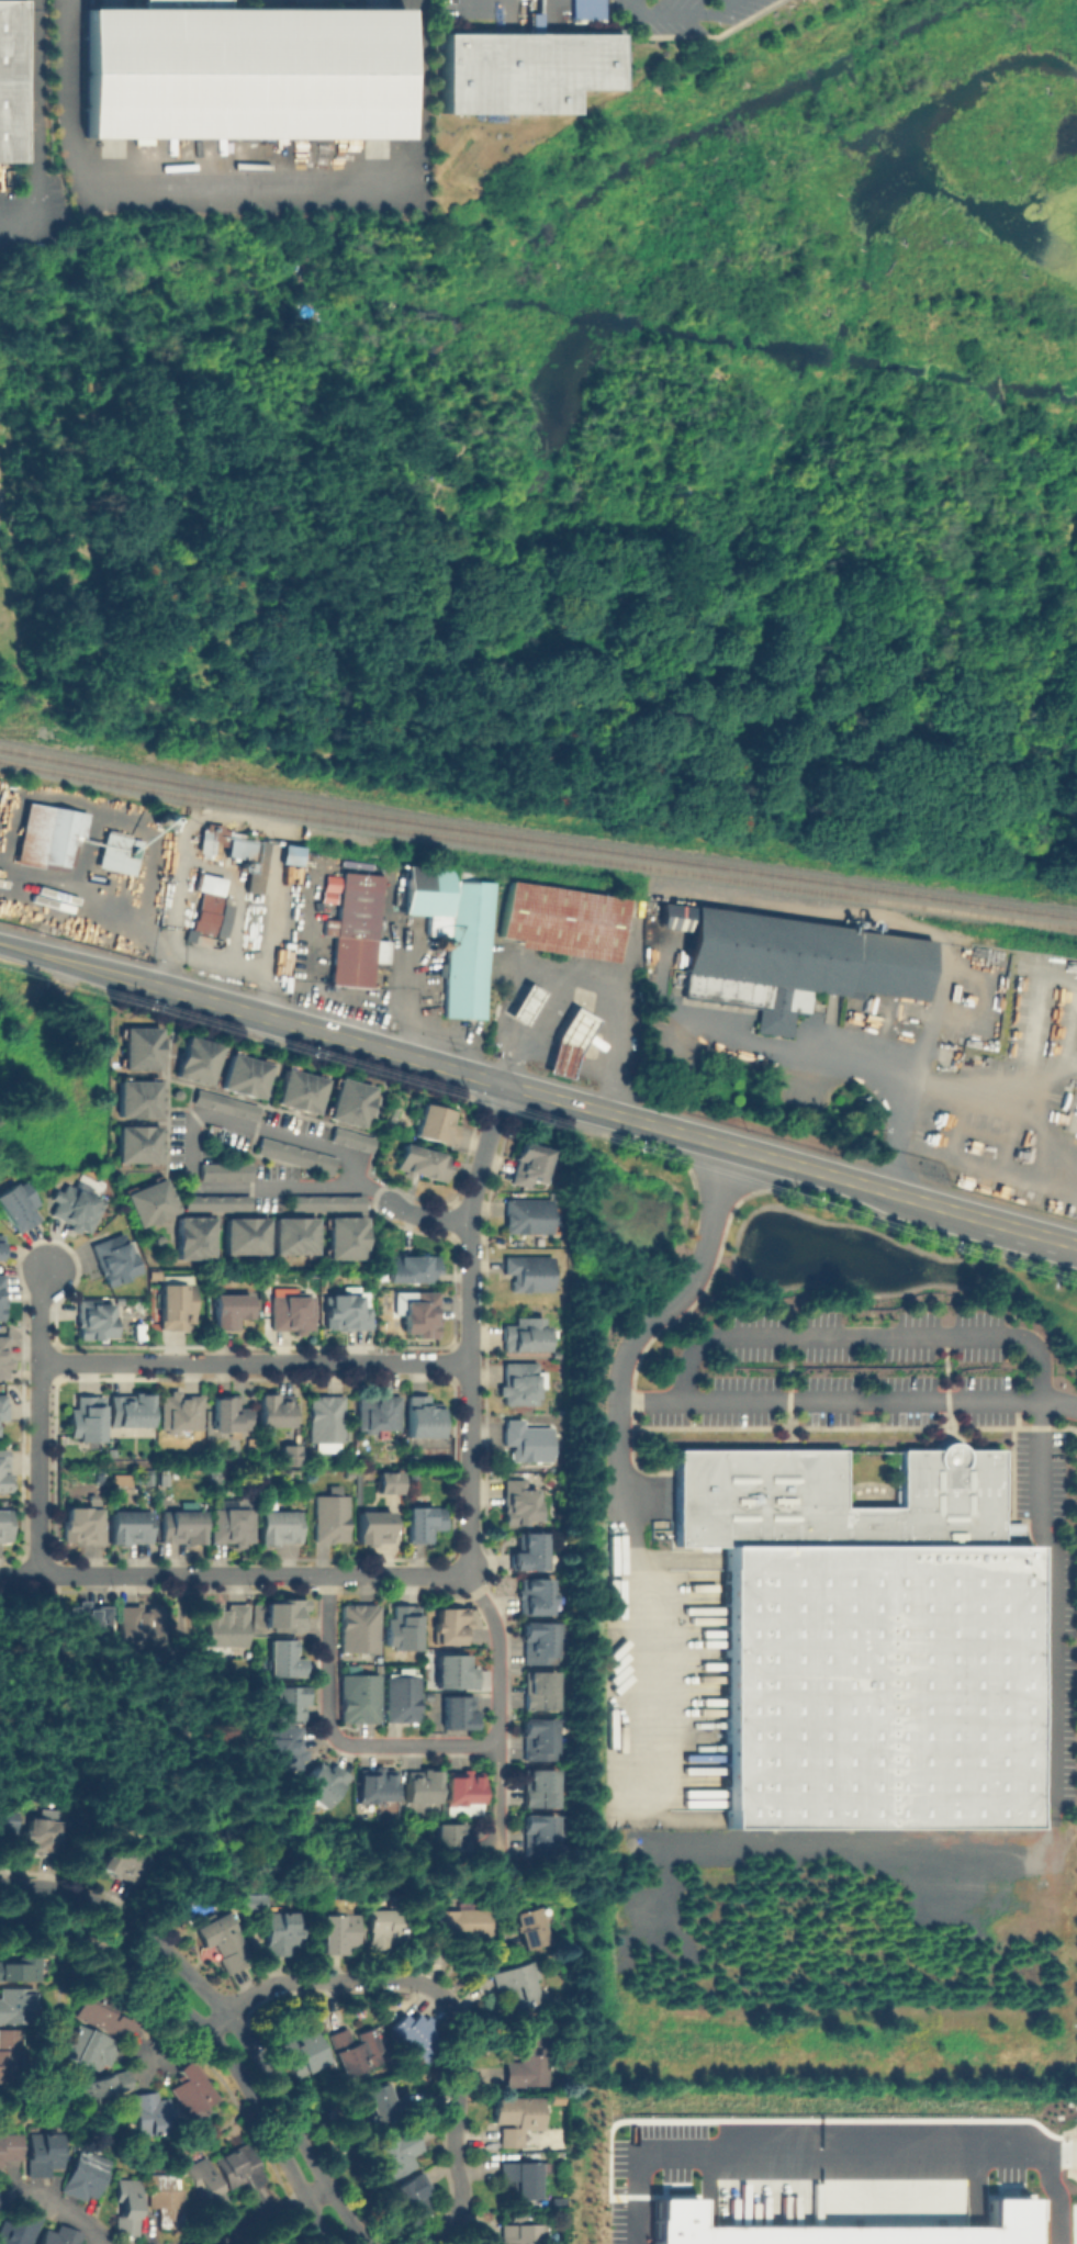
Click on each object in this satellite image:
road: (35, 3)
road: (637, 7)
building: (585, 11)
road: (688, 11)
building: (525, 67)
building: (246, 75)
building: (11, 81)
road: (33, 136)
road: (243, 190)
railway: (537, 835)
building: (49, 838)
building: (238, 849)
railway: (537, 850)
building: (289, 853)
building: (119, 855)
road: (225, 873)
building: (210, 906)
building: (23, 910)
road: (103, 910)
building: (563, 921)
building: (355, 929)
building: (456, 934)
building: (803, 953)
road: (52, 958)
road: (590, 977)
road: (126, 978)
road: (259, 978)
building: (752, 999)
building: (527, 1006)
building: (571, 1024)
building: (139, 1044)
road: (395, 1054)
building: (197, 1056)
road: (843, 1063)
road: (169, 1065)
building: (246, 1069)
road: (276, 1079)
building: (299, 1086)
building: (137, 1095)
building: (225, 1101)
building: (352, 1102)
road: (374, 1121)
building: (437, 1125)
building: (138, 1140)
building: (354, 1141)
road: (328, 1148)
building: (296, 1153)
building: (426, 1164)
building: (530, 1166)
road: (816, 1170)
building: (225, 1171)
road: (370, 1189)
building: (150, 1198)
building: (16, 1200)
building: (217, 1200)
building: (72, 1202)
building: (329, 1202)
road: (428, 1215)
building: (529, 1216)
building: (246, 1231)
building: (294, 1232)
road: (1033, 1232)
building: (195, 1234)
building: (347, 1238)
building: (1, 1243)
building: (112, 1257)
building: (413, 1269)
building: (531, 1274)
building: (1, 1291)
building: (175, 1301)
building: (229, 1306)
building: (292, 1310)
building: (350, 1311)
building: (425, 1315)
building: (92, 1316)
road: (470, 1328)
road: (636, 1332)
road: (864, 1334)
building: (526, 1335)
building: (3, 1355)
road: (256, 1361)
building: (520, 1385)
road: (848, 1399)
building: (3, 1403)
building: (128, 1406)
building: (274, 1406)
building: (178, 1410)
building: (229, 1410)
building: (379, 1413)
building: (85, 1414)
building: (425, 1416)
road: (41, 1421)
building: (328, 1423)
building: (529, 1441)
building: (291, 1452)
building: (413, 1457)
building: (3, 1469)
building: (213, 1474)
building: (261, 1474)
building: (147, 1476)
building: (165, 1476)
building: (413, 1476)
building: (98, 1477)
building: (120, 1479)
building: (391, 1482)
building: (521, 1504)
building: (332, 1517)
building: (80, 1521)
building: (4, 1523)
building: (427, 1523)
building: (128, 1524)
building: (178, 1524)
building: (231, 1524)
building: (279, 1524)
building: (377, 1528)
road: (1046, 1541)
building: (531, 1552)
road: (232, 1575)
building: (537, 1596)
building: (285, 1612)
building: (136, 1620)
building: (88, 1622)
building: (224, 1624)
building: (450, 1627)
building: (361, 1629)
building: (405, 1629)
building: (871, 1639)
building: (540, 1645)
building: (285, 1654)
building: (458, 1672)
building: (541, 1690)
building: (289, 1698)
building: (362, 1698)
building: (404, 1698)
building: (460, 1712)
road: (497, 1720)
road: (336, 1736)
building: (541, 1738)
building: (283, 1746)
building: (325, 1786)
building: (424, 1786)
building: (377, 1787)
building: (541, 1788)
building: (465, 1789)
building: (5, 1826)
building: (542, 1833)
building: (41, 1835)
building: (451, 1842)
building: (124, 1860)
road: (85, 1899)
building: (255, 1903)
building: (462, 1922)
building: (388, 1927)
building: (531, 1927)
building: (283, 1931)
building: (340, 1932)
building: (225, 1942)
building: (19, 1971)
building: (516, 1979)
road: (449, 2001)
building: (18, 2005)
building: (110, 2011)
road: (207, 2032)
building: (416, 2033)
road: (166, 2044)
building: (301, 2045)
building: (94, 2046)
building: (360, 2051)
building: (10, 2052)
building: (530, 2061)
building: (191, 2085)
road: (277, 2086)
building: (104, 2087)
building: (383, 2101)
building: (154, 2111)
building: (518, 2117)
building: (10, 2145)
building: (45, 2148)
road: (810, 2153)
building: (396, 2155)
building: (240, 2169)
building: (86, 2174)
building: (525, 2176)
building: (210, 2185)
building: (414, 2196)
building: (1, 2199)
building: (166, 2199)
road: (1056, 2199)
building: (560, 2203)
building: (127, 2206)
road: (68, 2213)
road: (262, 2213)
building: (21, 2226)
building: (849, 2226)
building: (527, 2233)
building: (60, 2235)

